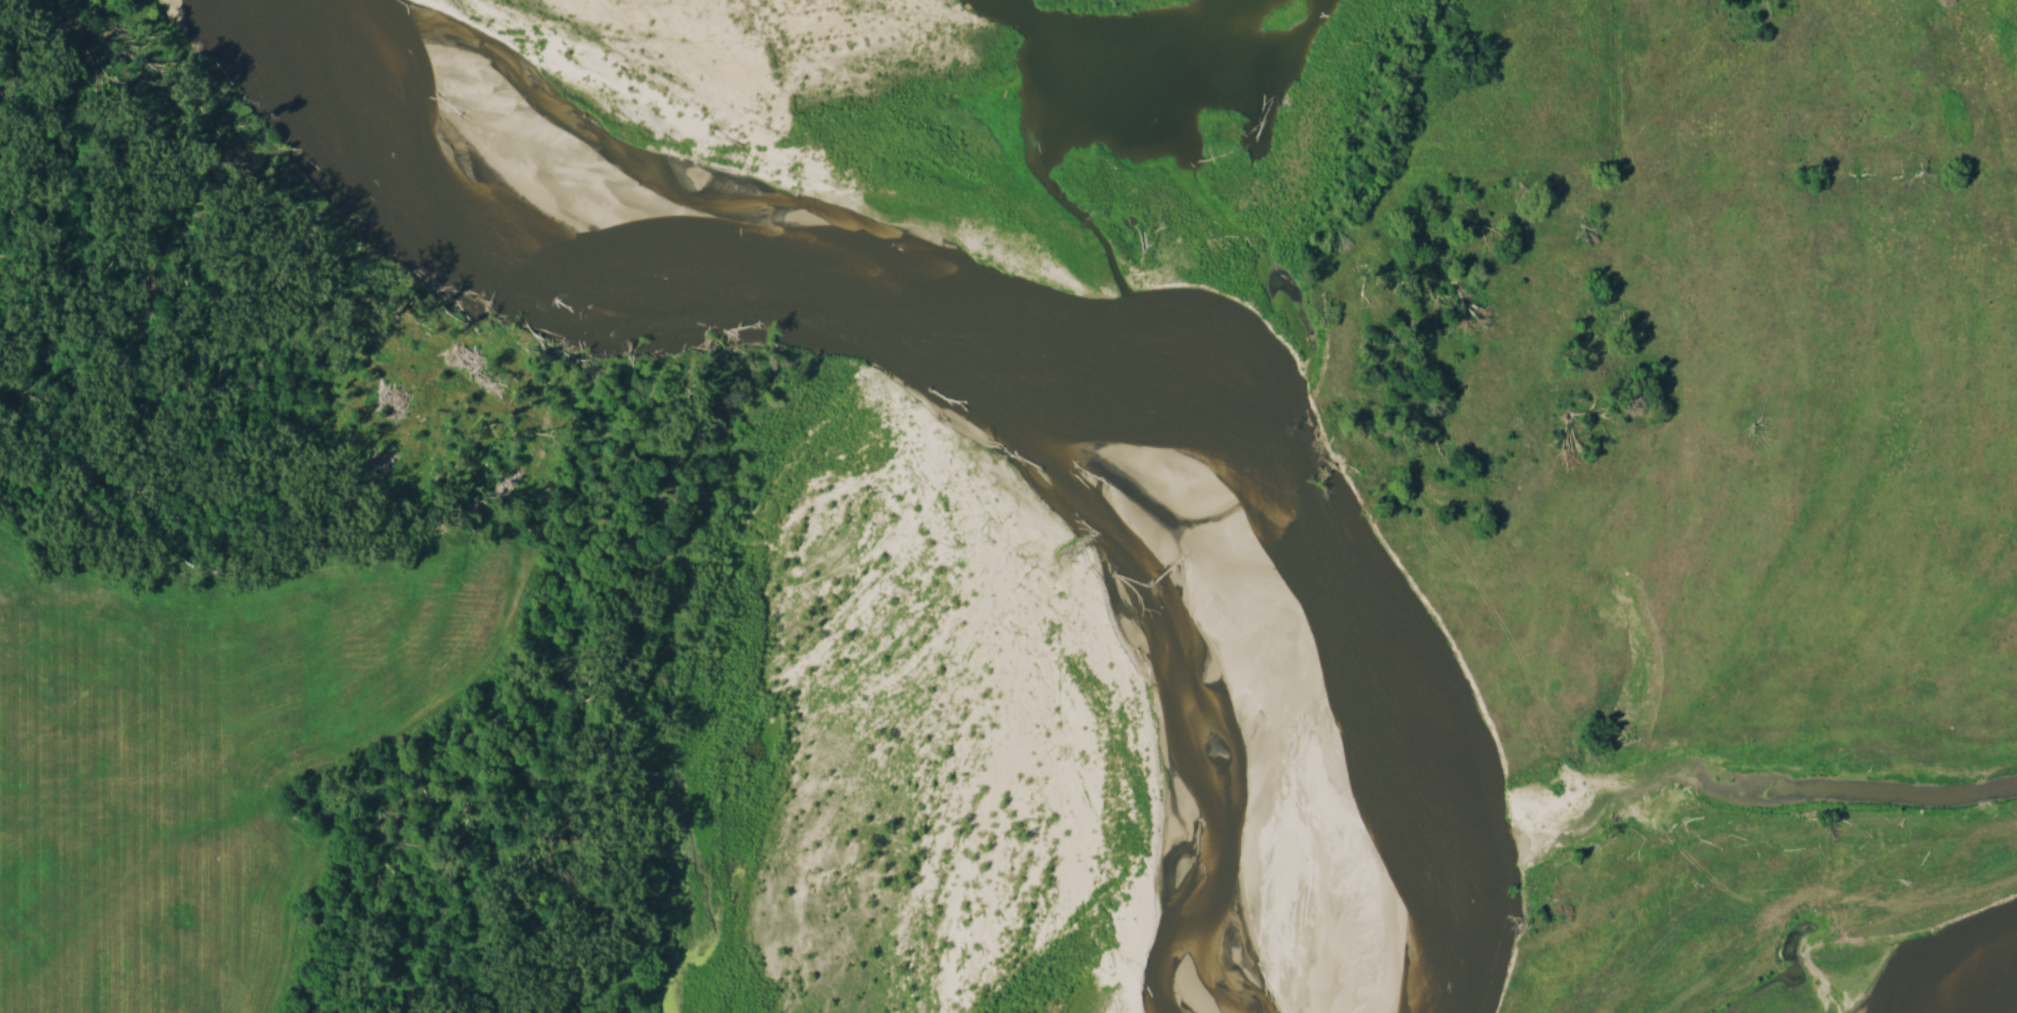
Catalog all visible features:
river: (965, 347)

